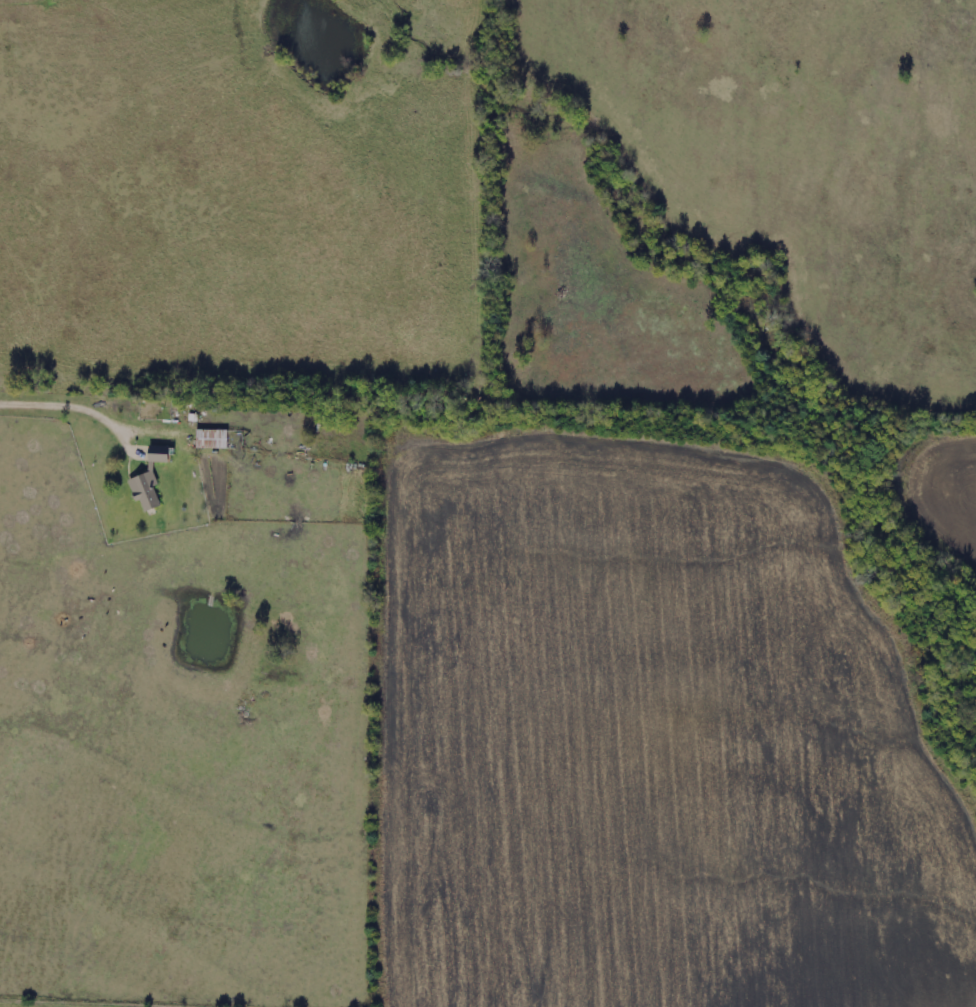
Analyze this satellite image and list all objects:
building: (214, 440)
building: (152, 479)

